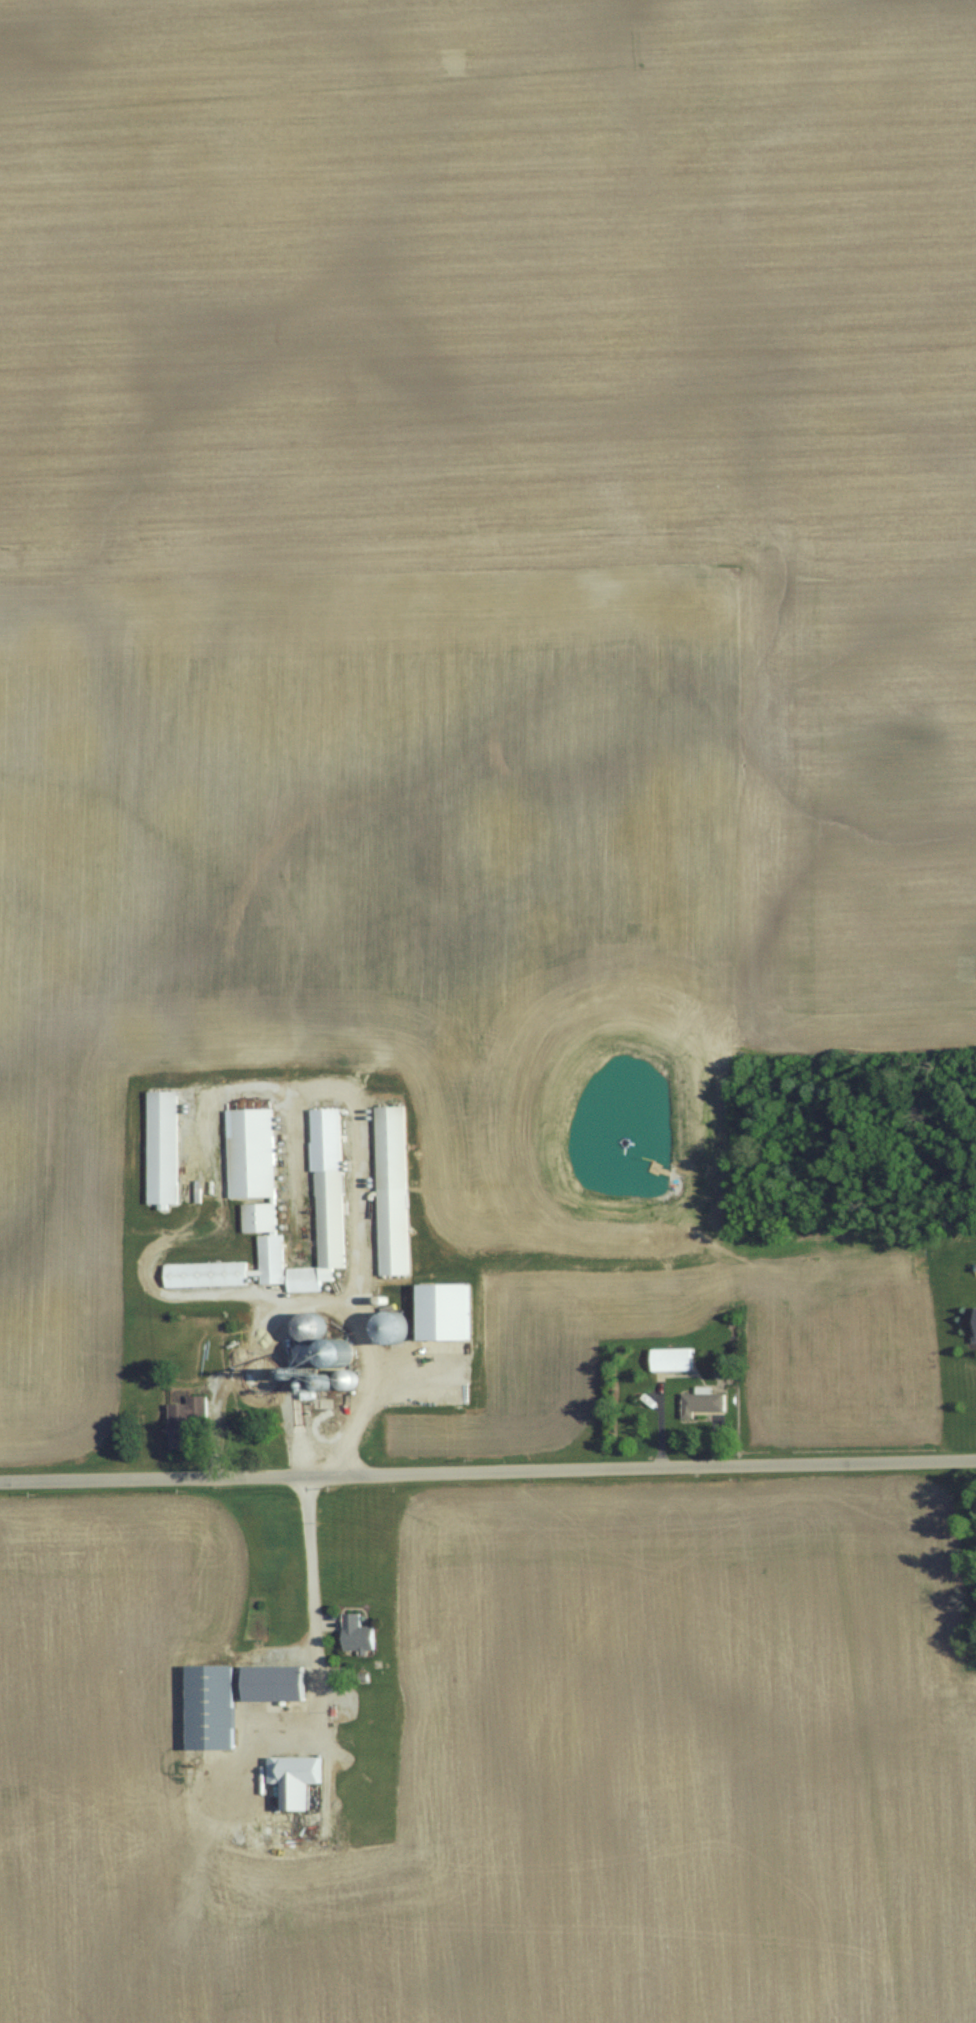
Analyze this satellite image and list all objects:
building: (252, 1153)
building: (329, 1156)
building: (394, 1190)
road: (316, 1303)
building: (448, 1312)
building: (398, 1327)
building: (674, 1360)
building: (703, 1404)
building: (188, 1421)
road: (487, 1470)
road: (314, 1595)
building: (359, 1634)
building: (278, 1683)
building: (214, 1707)
building: (298, 1779)

